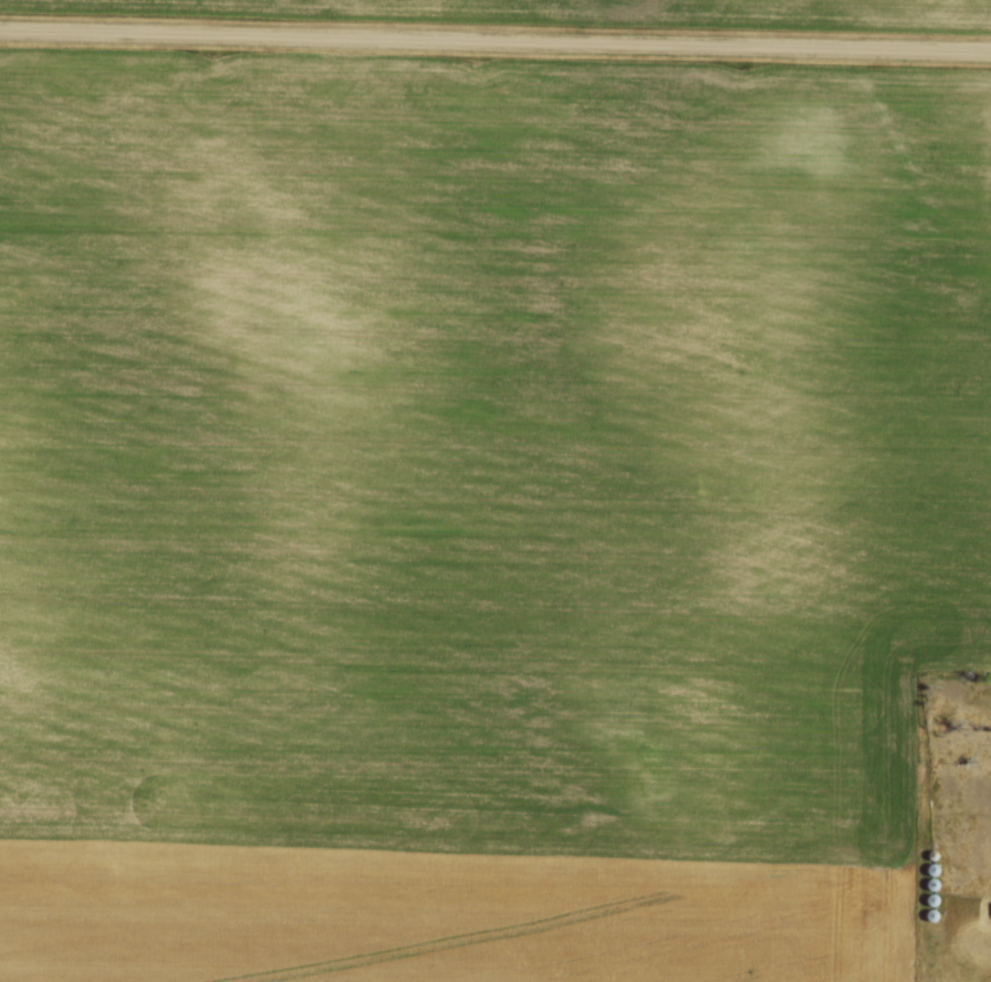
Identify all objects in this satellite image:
crop: (587, 10)
road: (495, 39)
crop: (482, 512)
silo: (932, 855)
silo: (931, 869)
silo: (931, 882)
silo: (931, 899)
silo: (930, 914)

